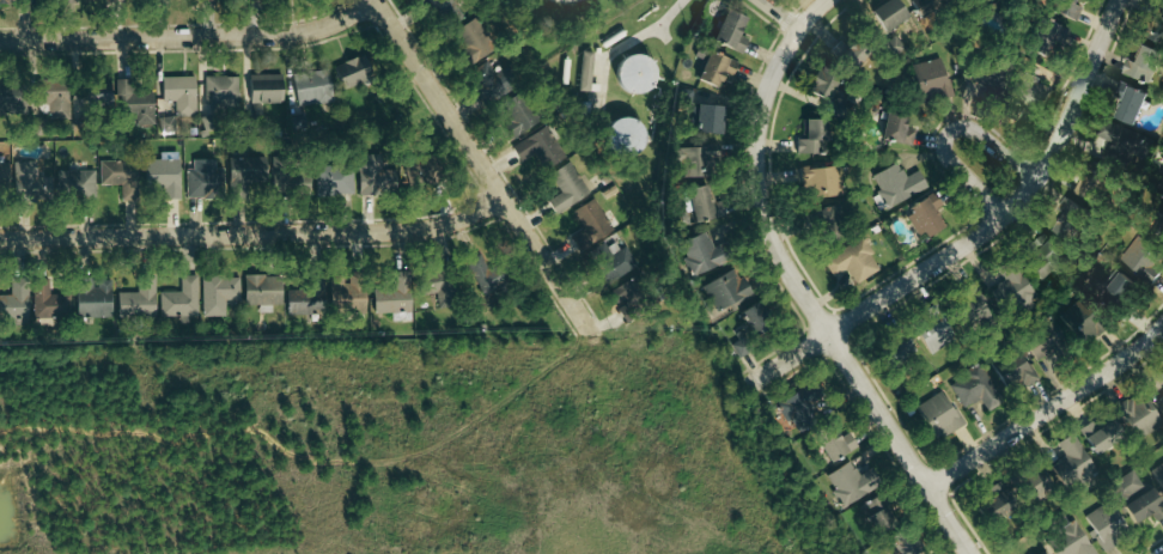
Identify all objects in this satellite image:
building: (97, 0)
building: (206, 0)
building: (14, 1)
building: (68, 1)
building: (925, 6)
building: (1066, 7)
road: (796, 10)
building: (889, 13)
road: (779, 14)
road: (812, 14)
building: (1158, 28)
building: (730, 31)
road: (190, 36)
building: (1045, 36)
building: (474, 38)
building: (1144, 65)
building: (716, 68)
building: (352, 71)
building: (586, 71)
building: (633, 74)
building: (488, 81)
building: (931, 81)
building: (823, 86)
building: (313, 87)
building: (266, 89)
building: (1027, 91)
building: (221, 92)
building: (96, 93)
building: (179, 95)
building: (53, 96)
building: (8, 98)
building: (1129, 104)
building: (138, 106)
building: (708, 118)
building: (297, 121)
building: (168, 126)
building: (206, 126)
building: (896, 129)
building: (529, 132)
road: (943, 135)
building: (812, 136)
building: (1126, 141)
building: (699, 160)
road: (481, 165)
building: (118, 173)
building: (246, 173)
building: (418, 173)
building: (375, 176)
building: (163, 177)
building: (205, 179)
building: (0, 181)
building: (291, 181)
building: (334, 181)
building: (822, 182)
building: (1161, 183)
building: (53, 184)
building: (897, 184)
building: (1089, 185)
building: (568, 188)
road: (1011, 202)
building: (701, 205)
building: (924, 217)
building: (824, 218)
building: (1070, 220)
building: (591, 225)
building: (1161, 225)
road: (254, 233)
building: (700, 254)
building: (1144, 260)
building: (853, 261)
building: (1042, 261)
building: (613, 262)
building: (493, 279)
building: (438, 287)
building: (726, 290)
building: (262, 291)
building: (1120, 291)
building: (219, 294)
building: (627, 294)
building: (394, 296)
building: (95, 298)
building: (181, 299)
building: (306, 299)
building: (347, 299)
building: (970, 299)
building: (139, 300)
building: (49, 303)
road: (803, 303)
building: (14, 309)
building: (754, 318)
building: (1077, 319)
building: (932, 330)
building: (1043, 340)
building: (739, 348)
building: (900, 349)
road: (790, 358)
building: (1015, 372)
building: (1162, 375)
building: (975, 389)
building: (1161, 401)
road: (1047, 409)
building: (939, 416)
building: (1140, 416)
building: (1100, 436)
building: (834, 443)
building: (1072, 462)
building: (1158, 475)
building: (1040, 479)
building: (851, 483)
building: (1126, 486)
building: (997, 504)
building: (1141, 506)
building: (881, 519)
building: (1107, 526)
building: (1070, 542)
building: (905, 546)

